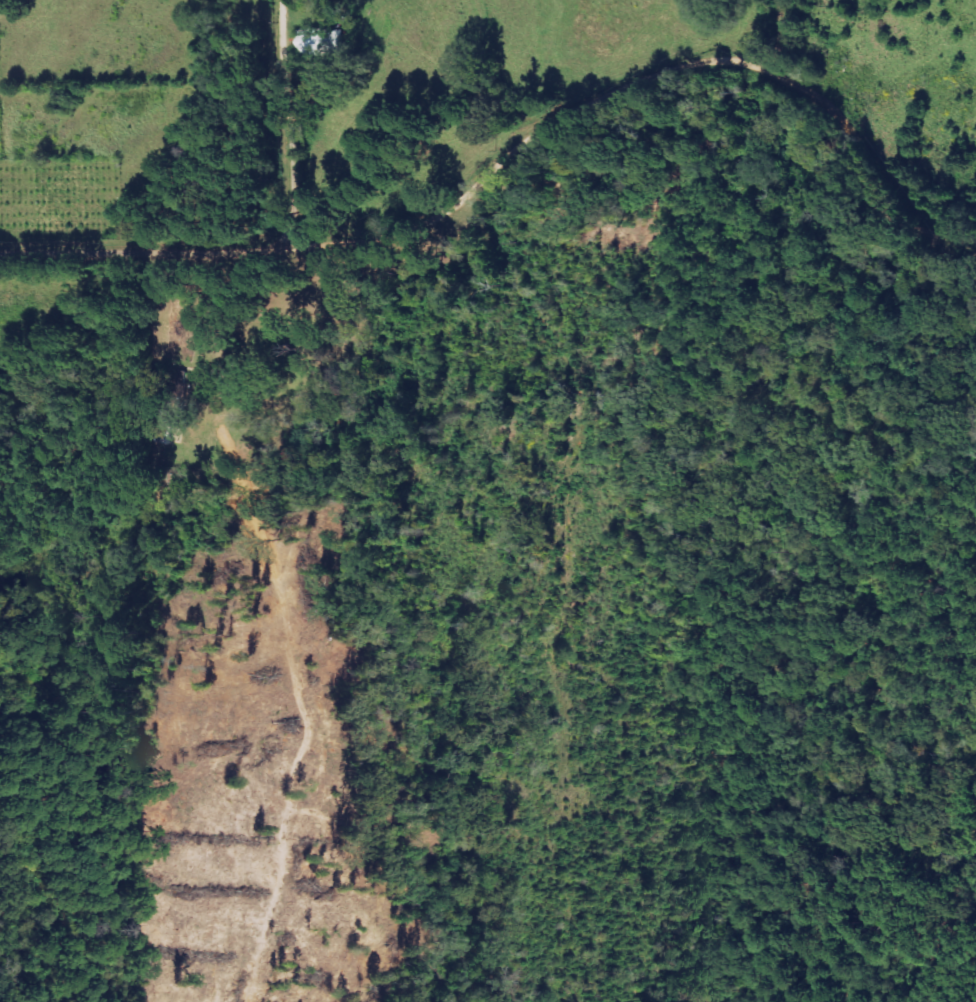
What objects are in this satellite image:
road: (704, 50)
road: (284, 131)
road: (13, 179)
road: (451, 221)

